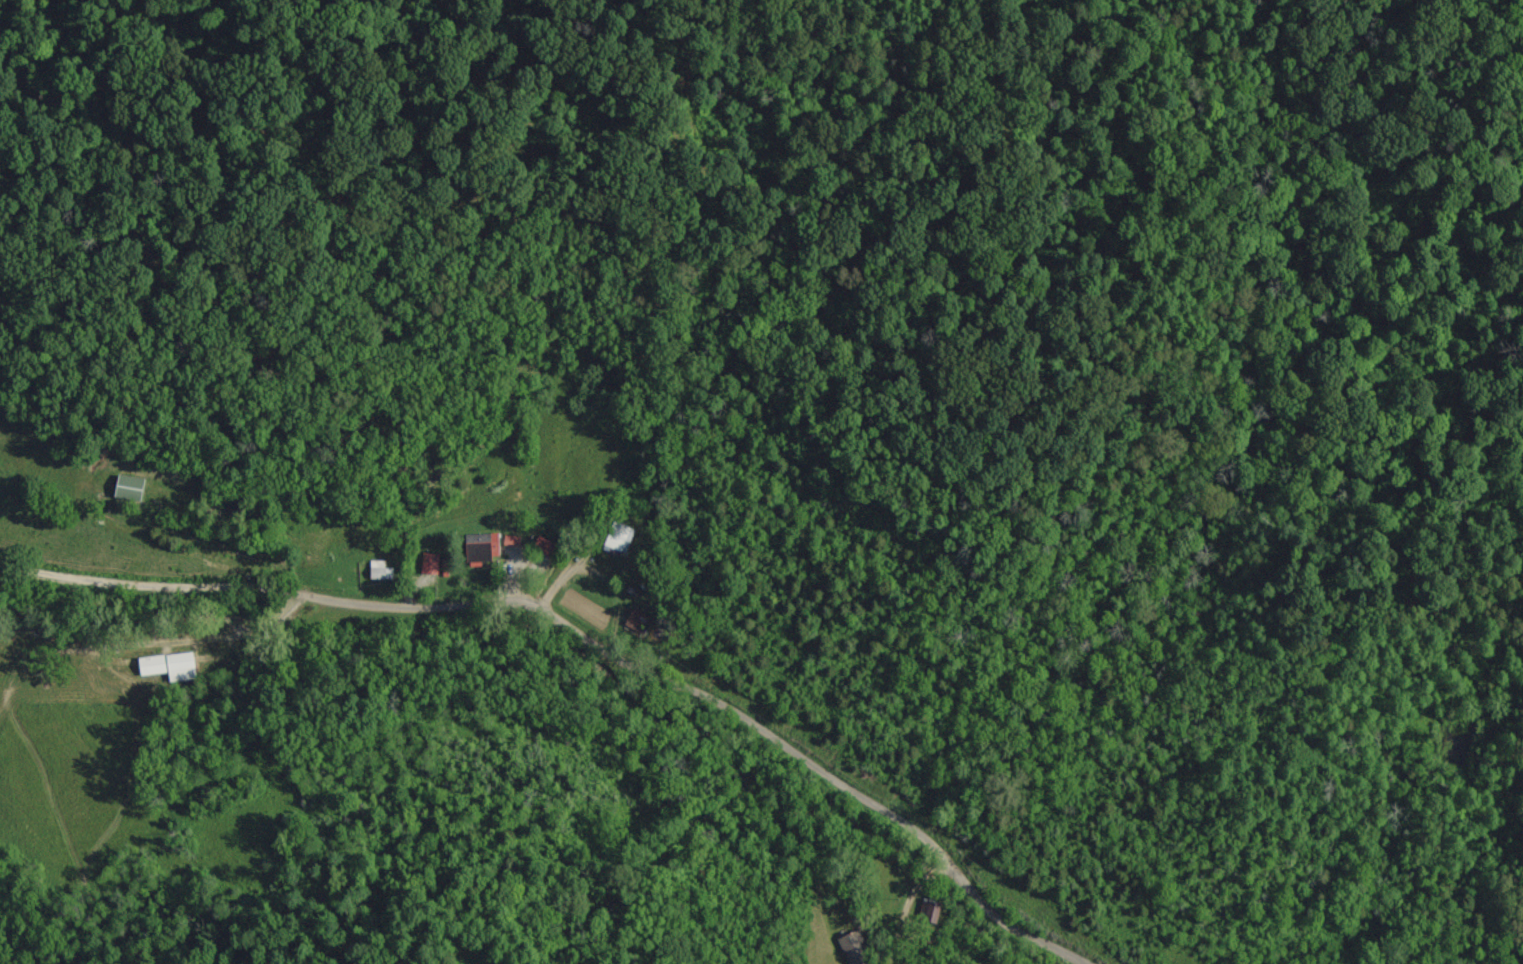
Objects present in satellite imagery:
building: (124, 487)
building: (617, 536)
building: (480, 546)
building: (428, 563)
building: (378, 570)
road: (587, 637)
building: (167, 665)
building: (926, 914)
building: (852, 948)

